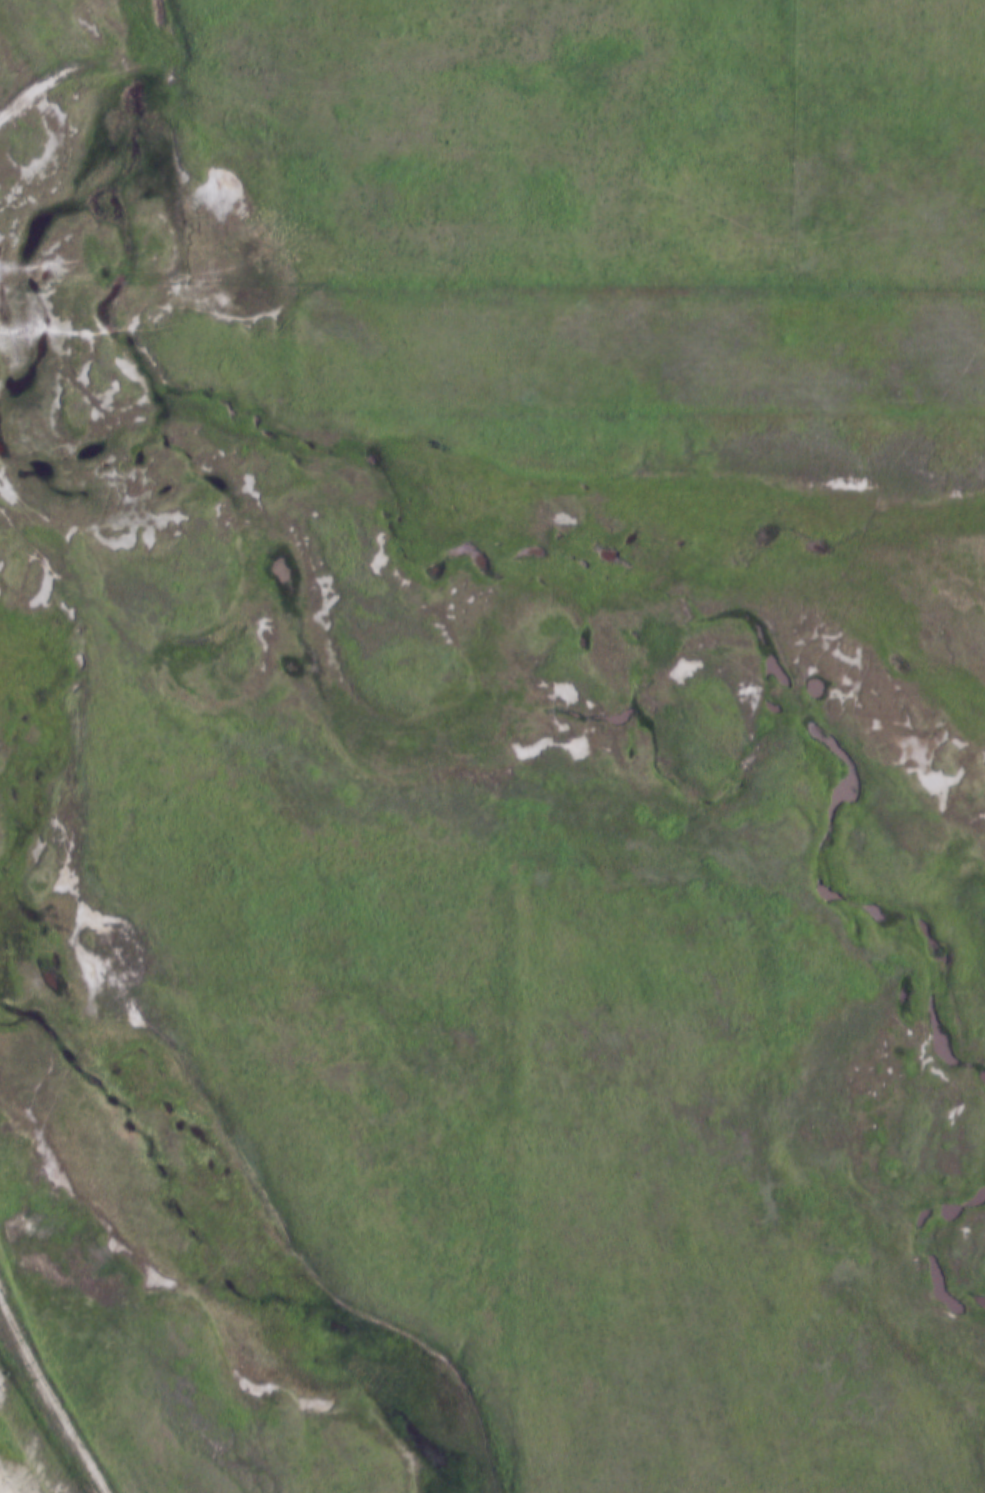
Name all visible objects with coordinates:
road: (48, 1390)
quarry: (50, 1394)

